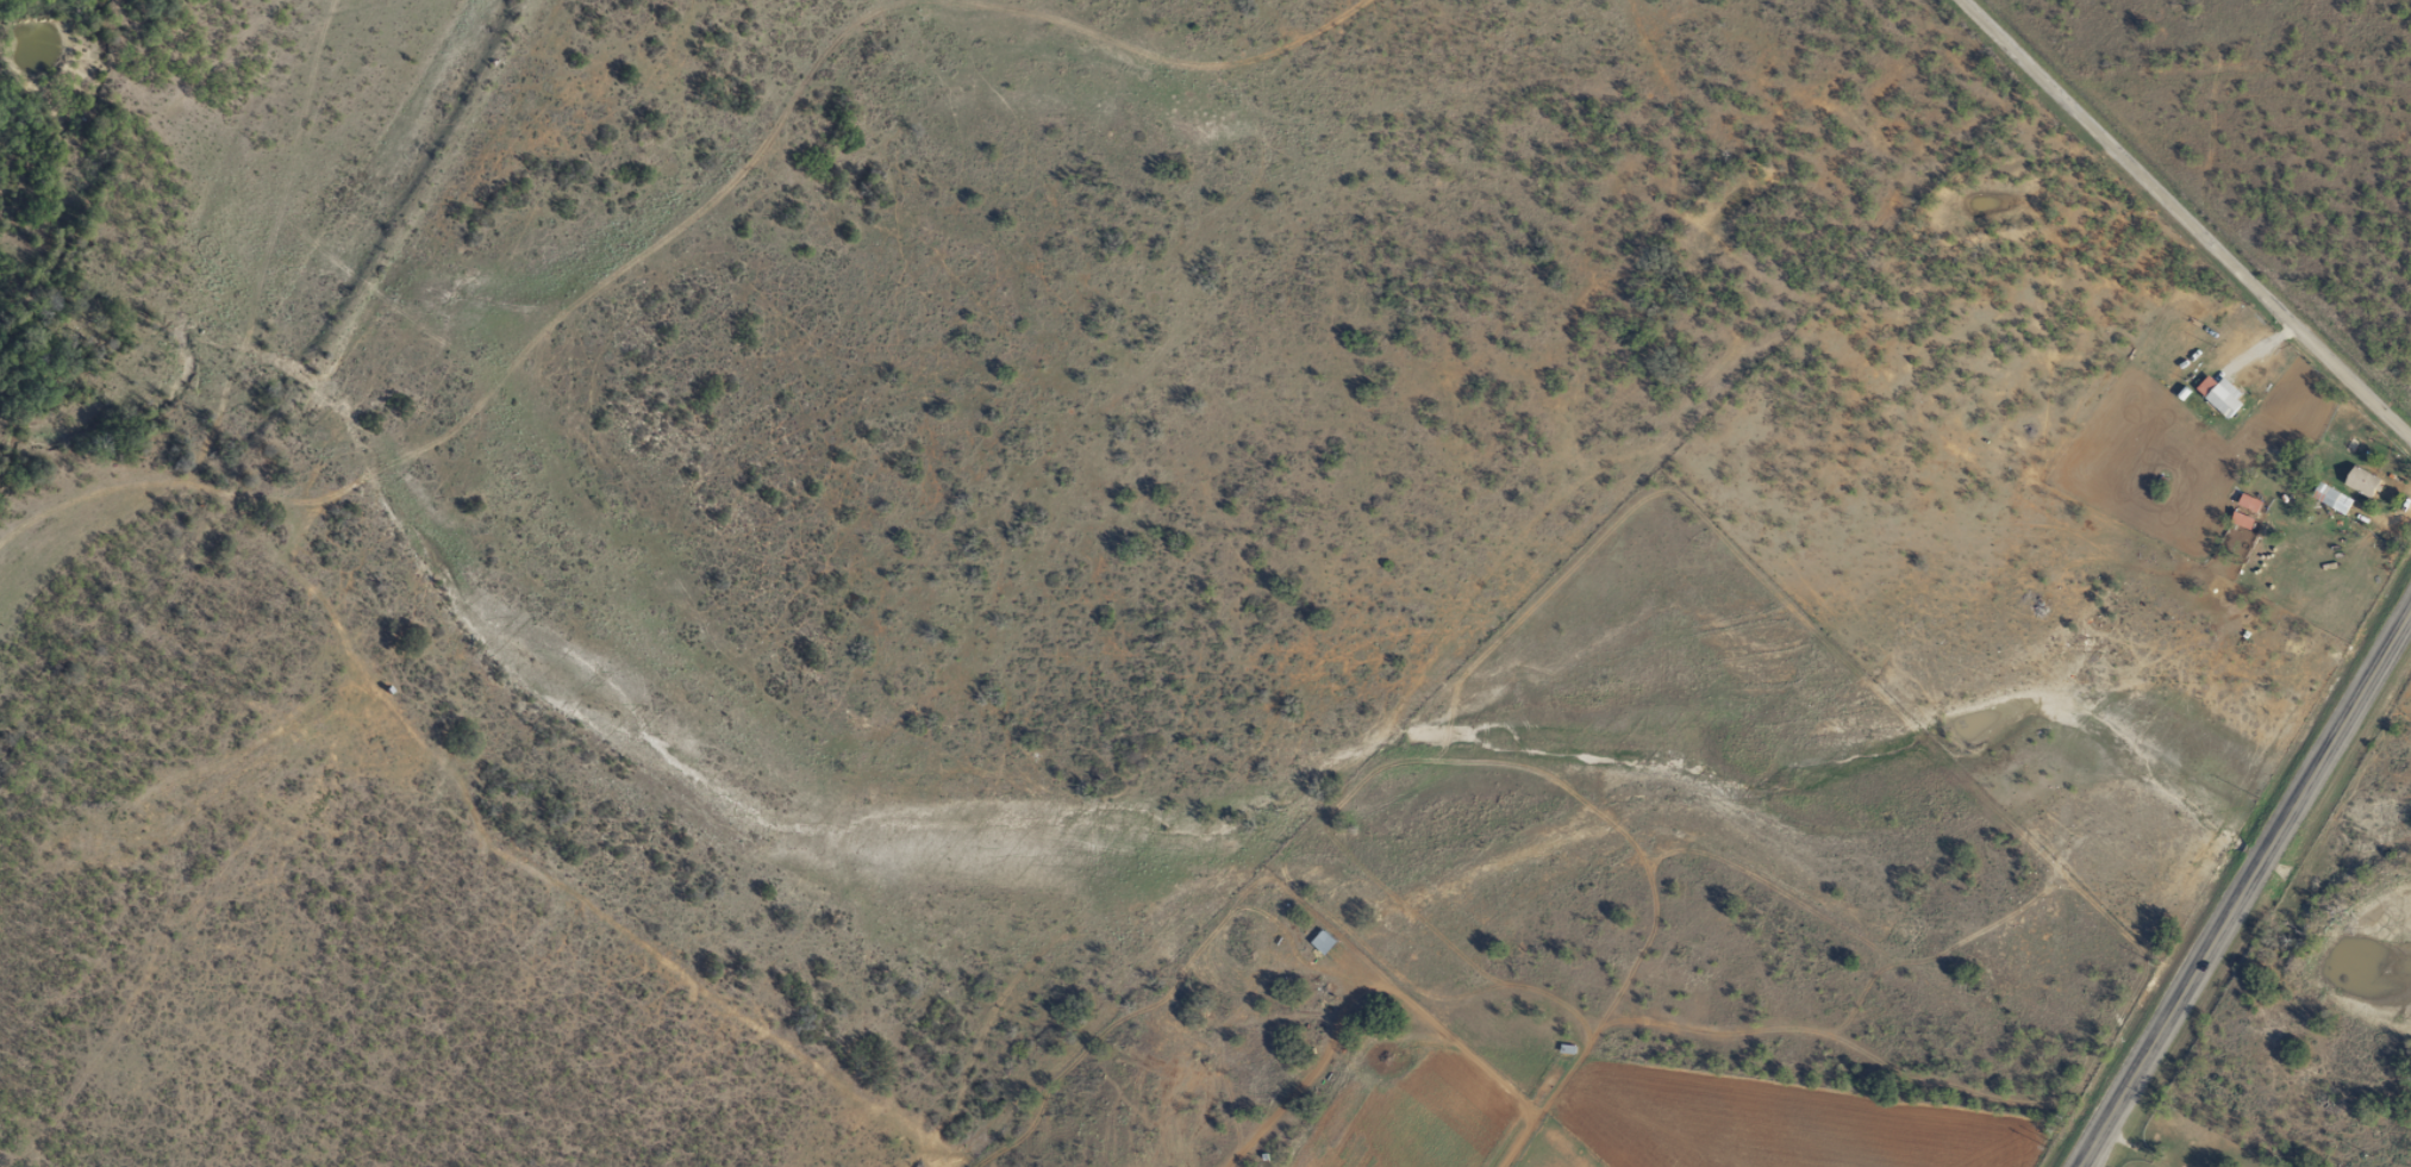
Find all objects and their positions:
road: (2156, 210)
railway: (286, 406)
building: (2357, 480)
building: (2328, 498)
road: (2241, 876)
building: (1318, 942)

